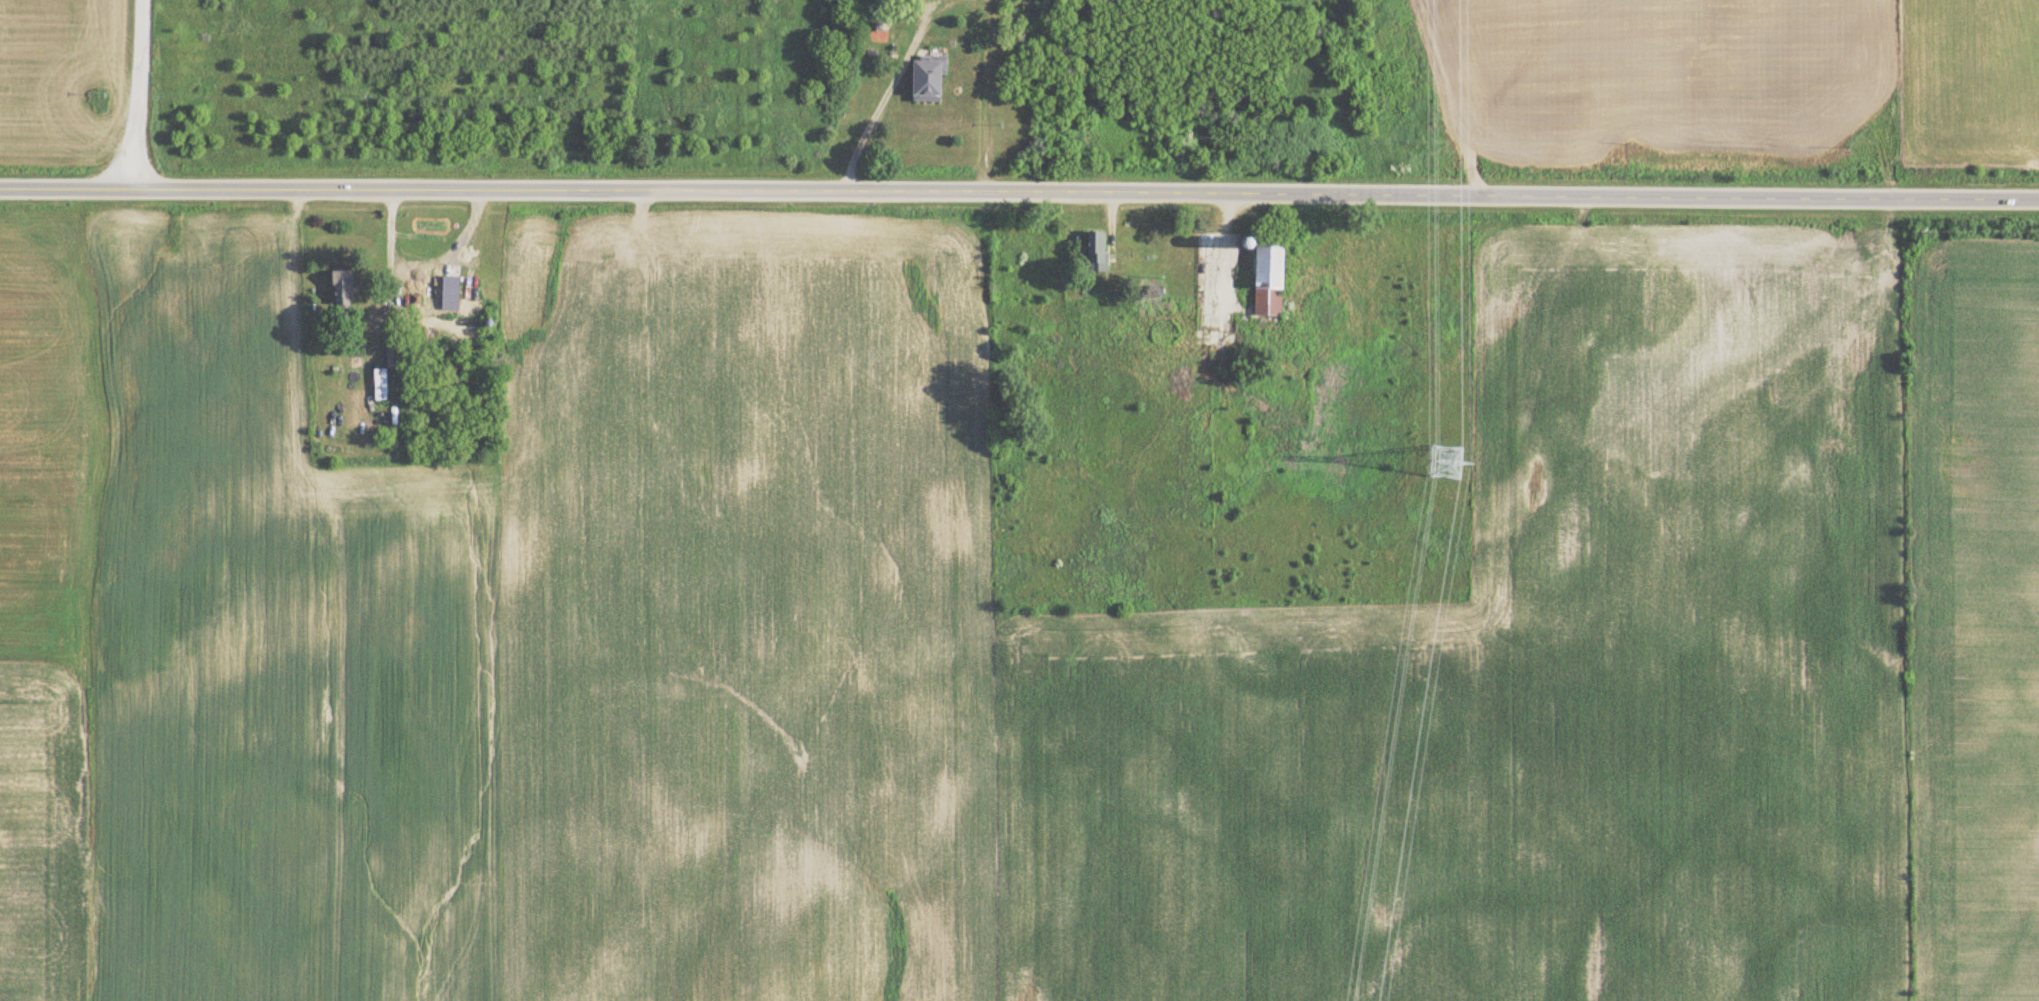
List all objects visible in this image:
building: (1020, 4)
building: (925, 80)
road: (141, 95)
road: (871, 127)
road: (1019, 192)
building: (1096, 251)
road: (421, 274)
building: (1267, 278)
building: (341, 291)
power tower: (1449, 464)

